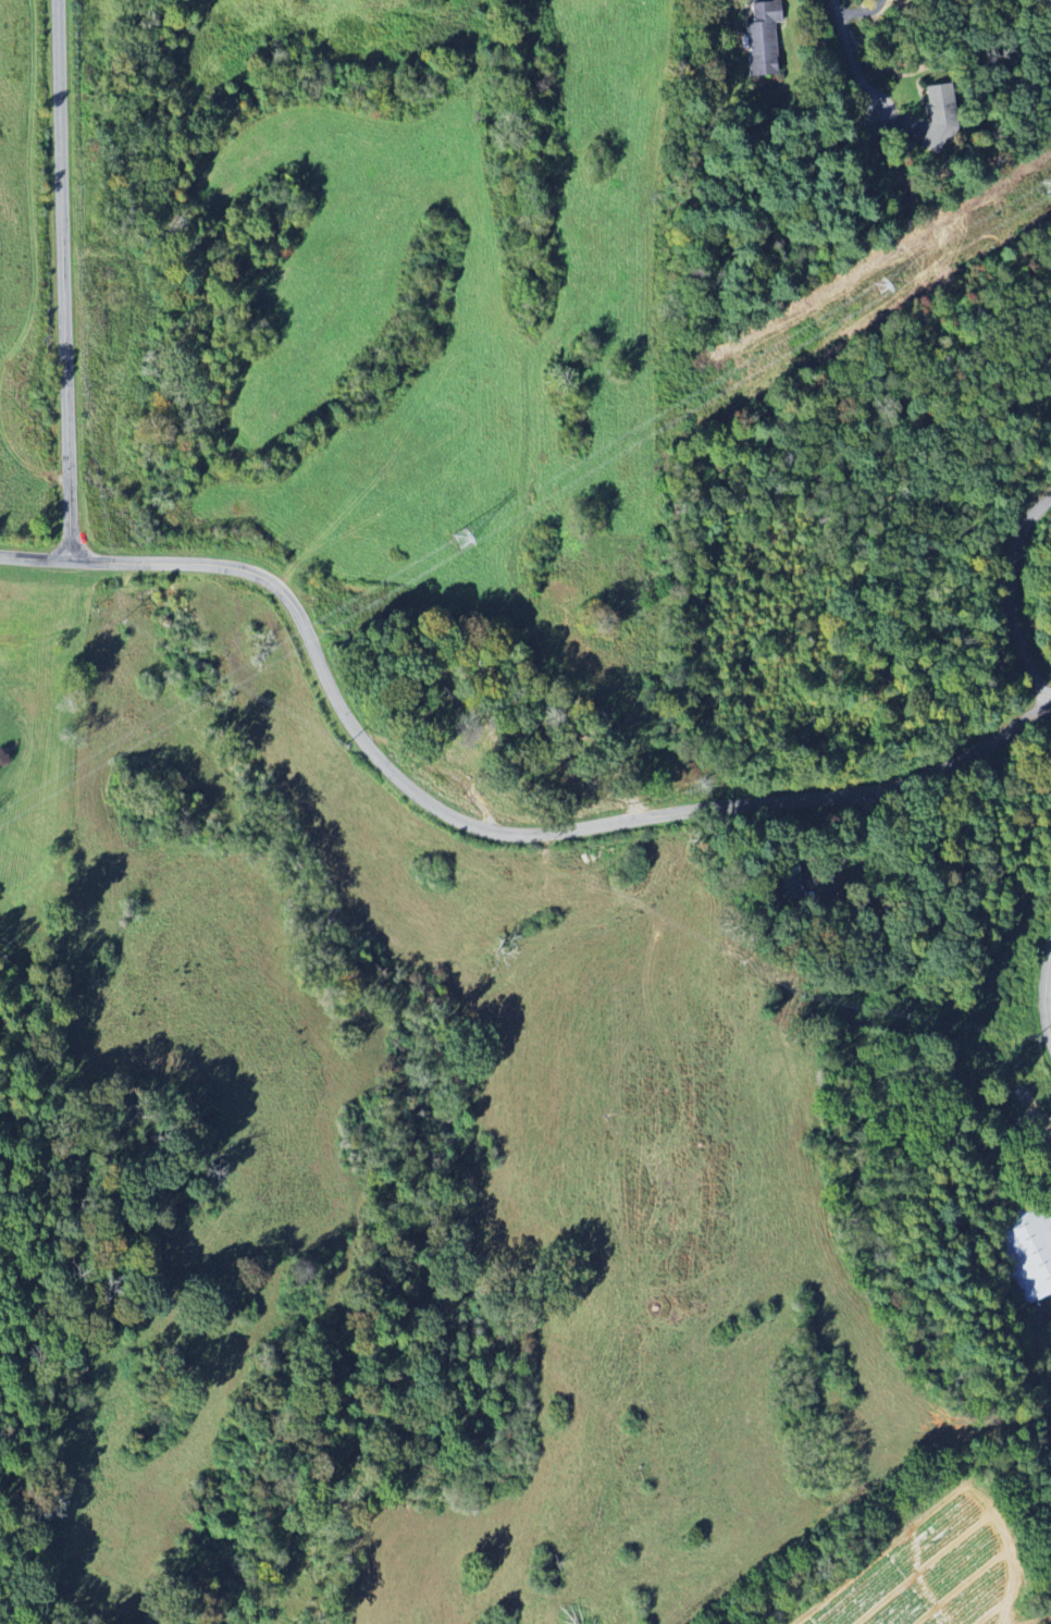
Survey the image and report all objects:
building: (761, 41)
road: (852, 54)
building: (937, 115)
power tower: (1042, 184)
power tower: (880, 279)
road: (65, 287)
power tower: (460, 538)
road: (1010, 598)
road: (473, 828)
road: (1042, 998)
building: (1026, 1254)

